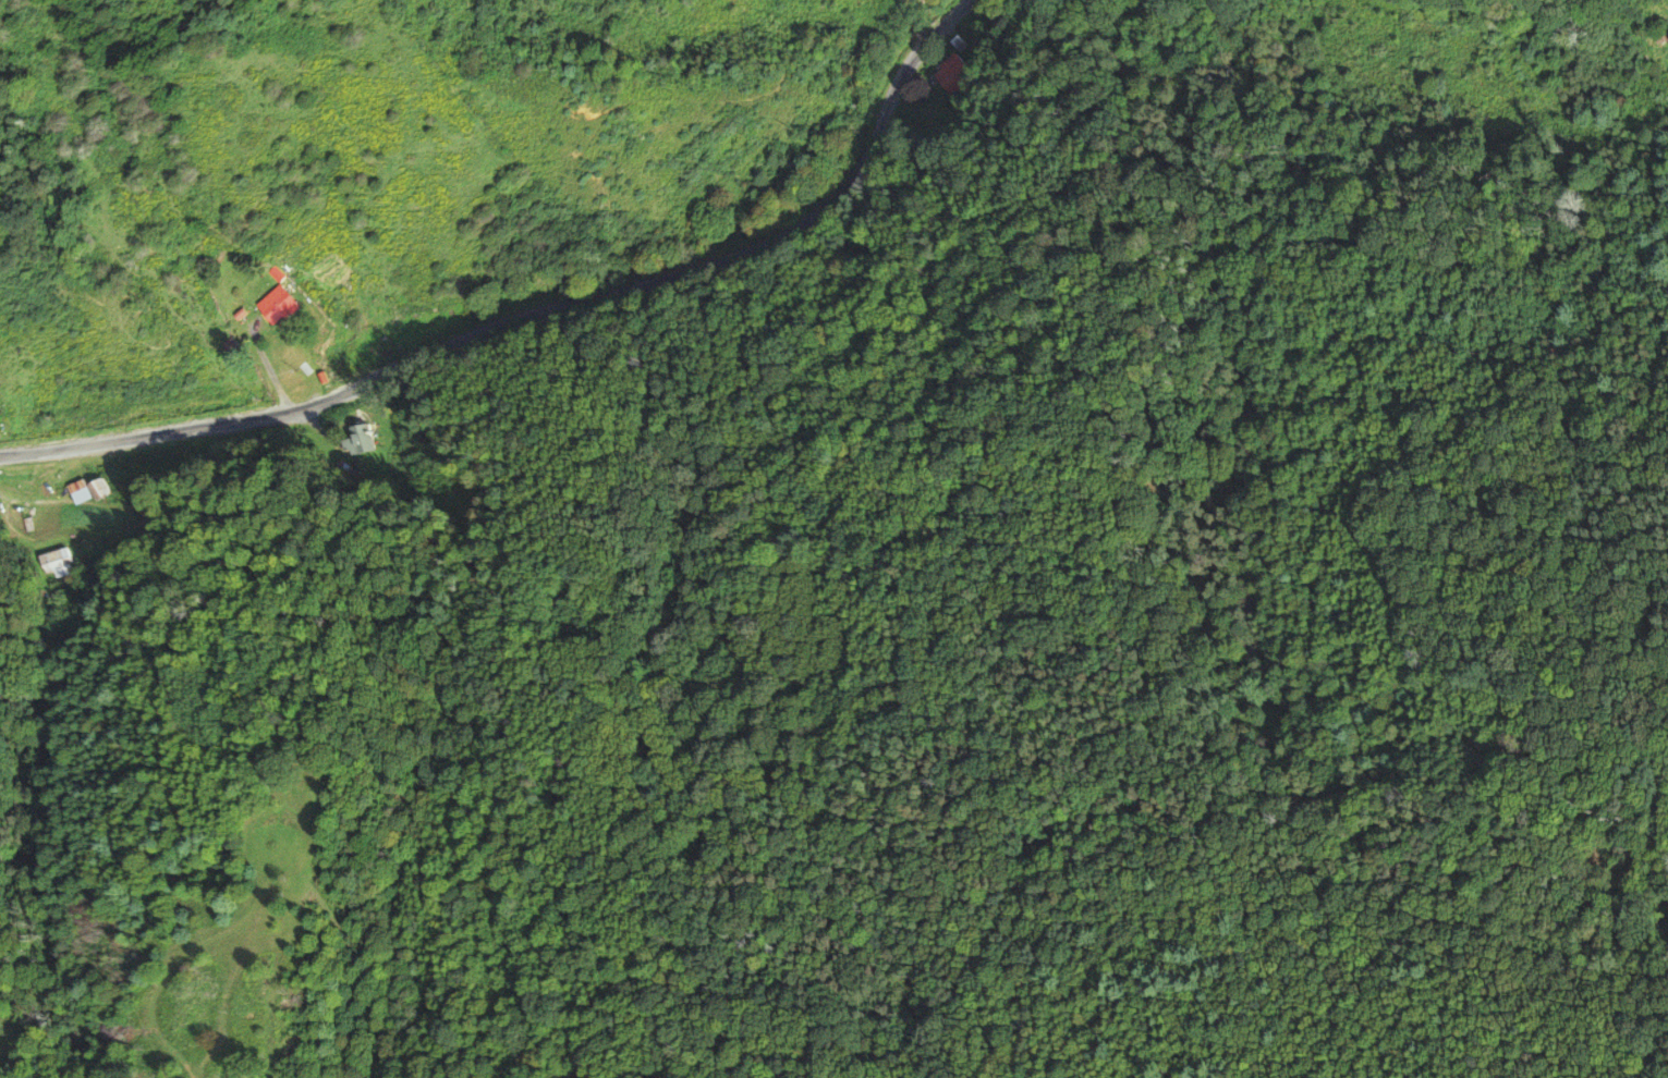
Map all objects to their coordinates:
road: (914, 26)
road: (540, 315)

